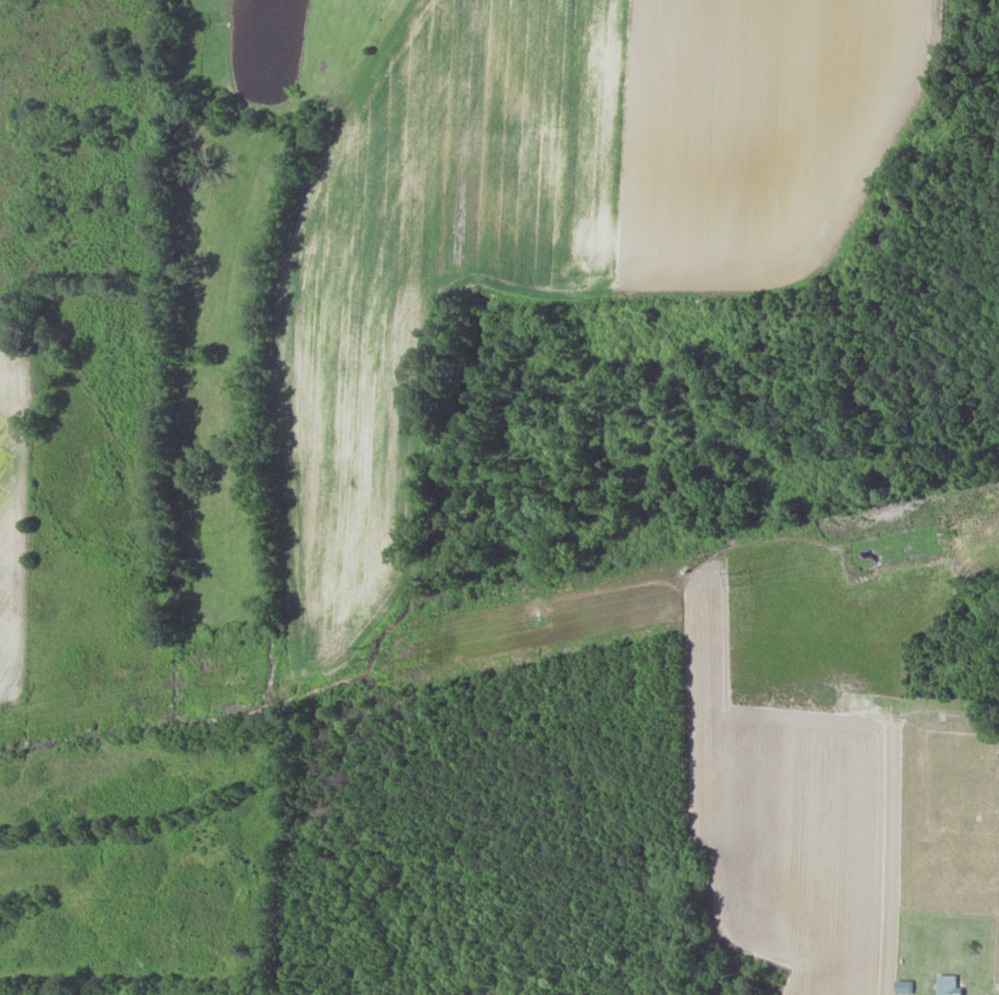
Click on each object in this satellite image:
road: (828, 262)
power tower: (737, 577)
power tower: (362, 653)
building: (949, 985)

